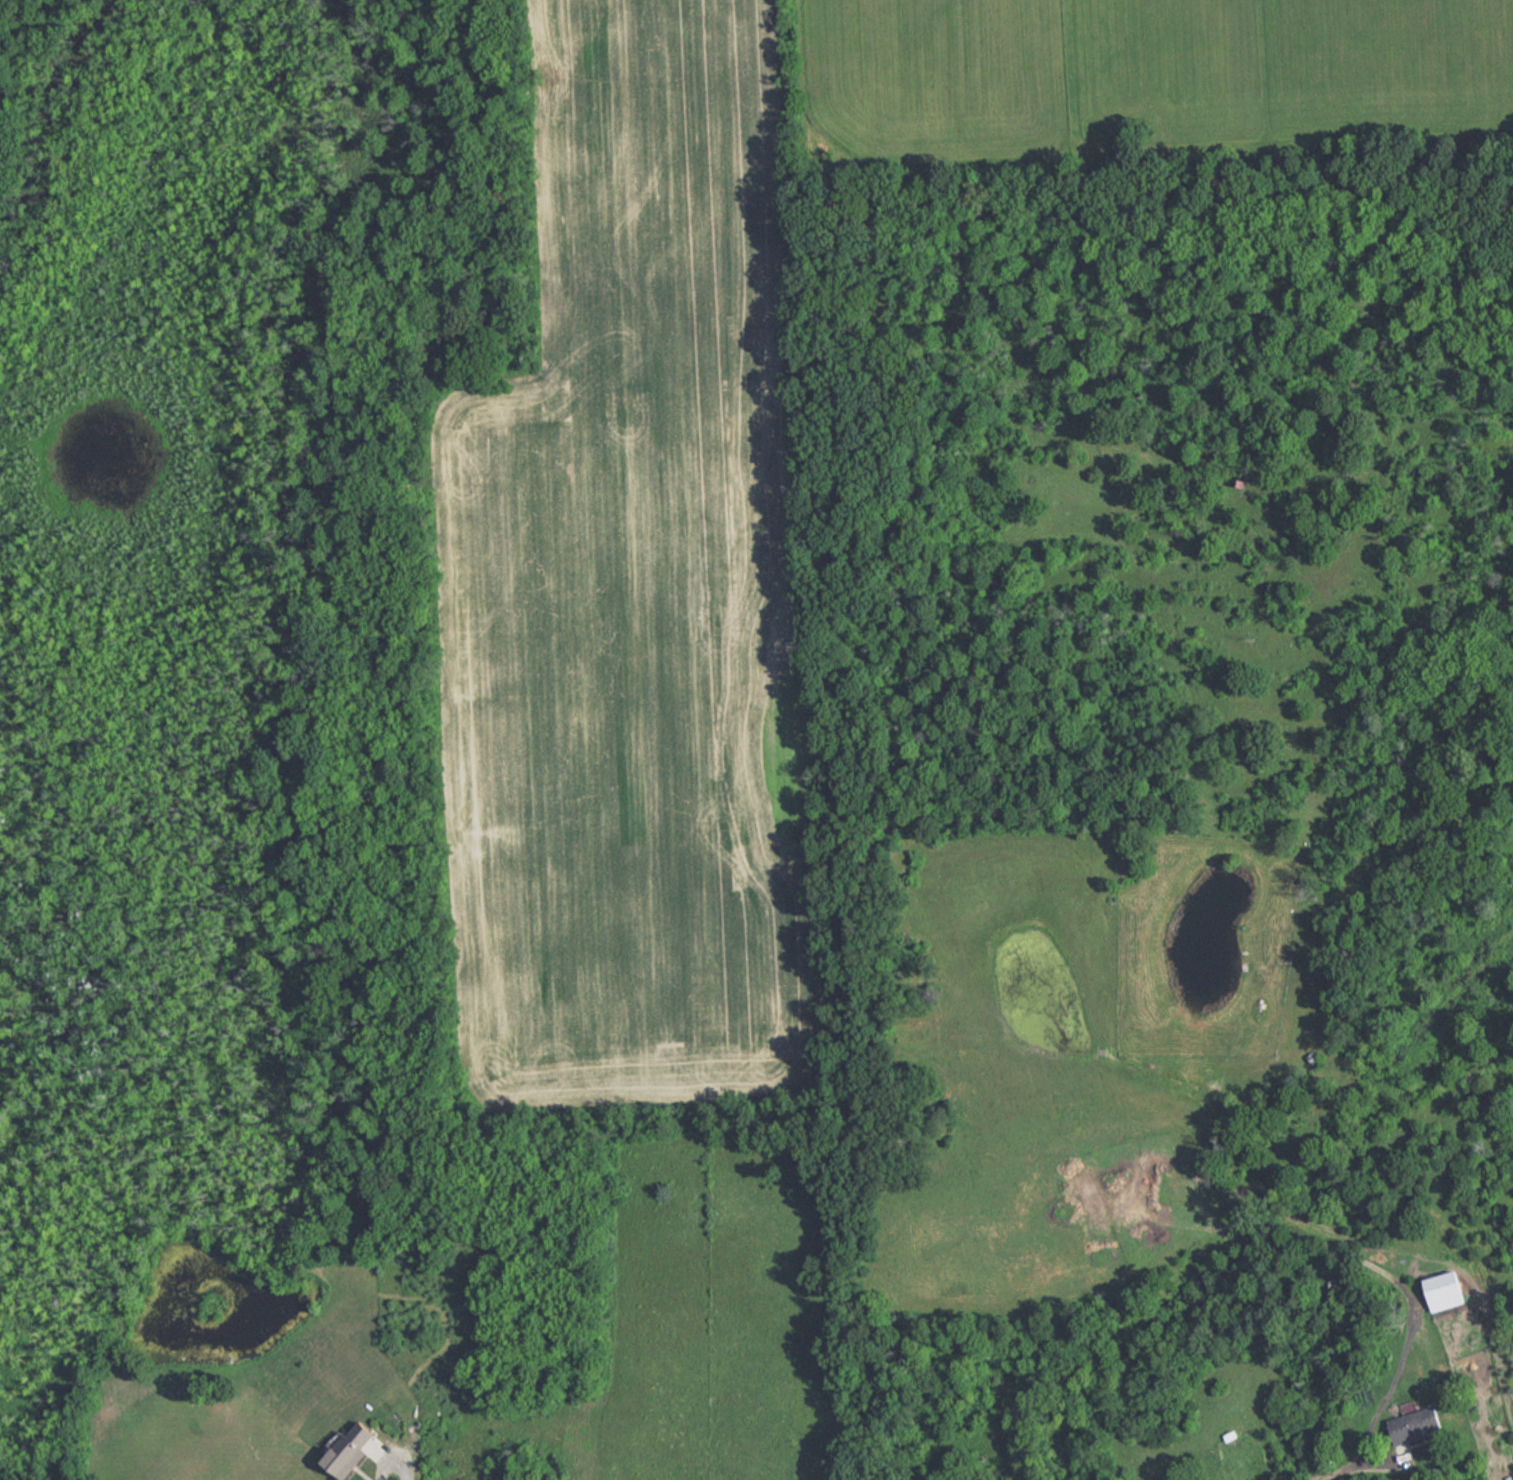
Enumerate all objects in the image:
building: (1446, 1291)
building: (1417, 1425)
building: (353, 1450)
road: (1333, 1469)

